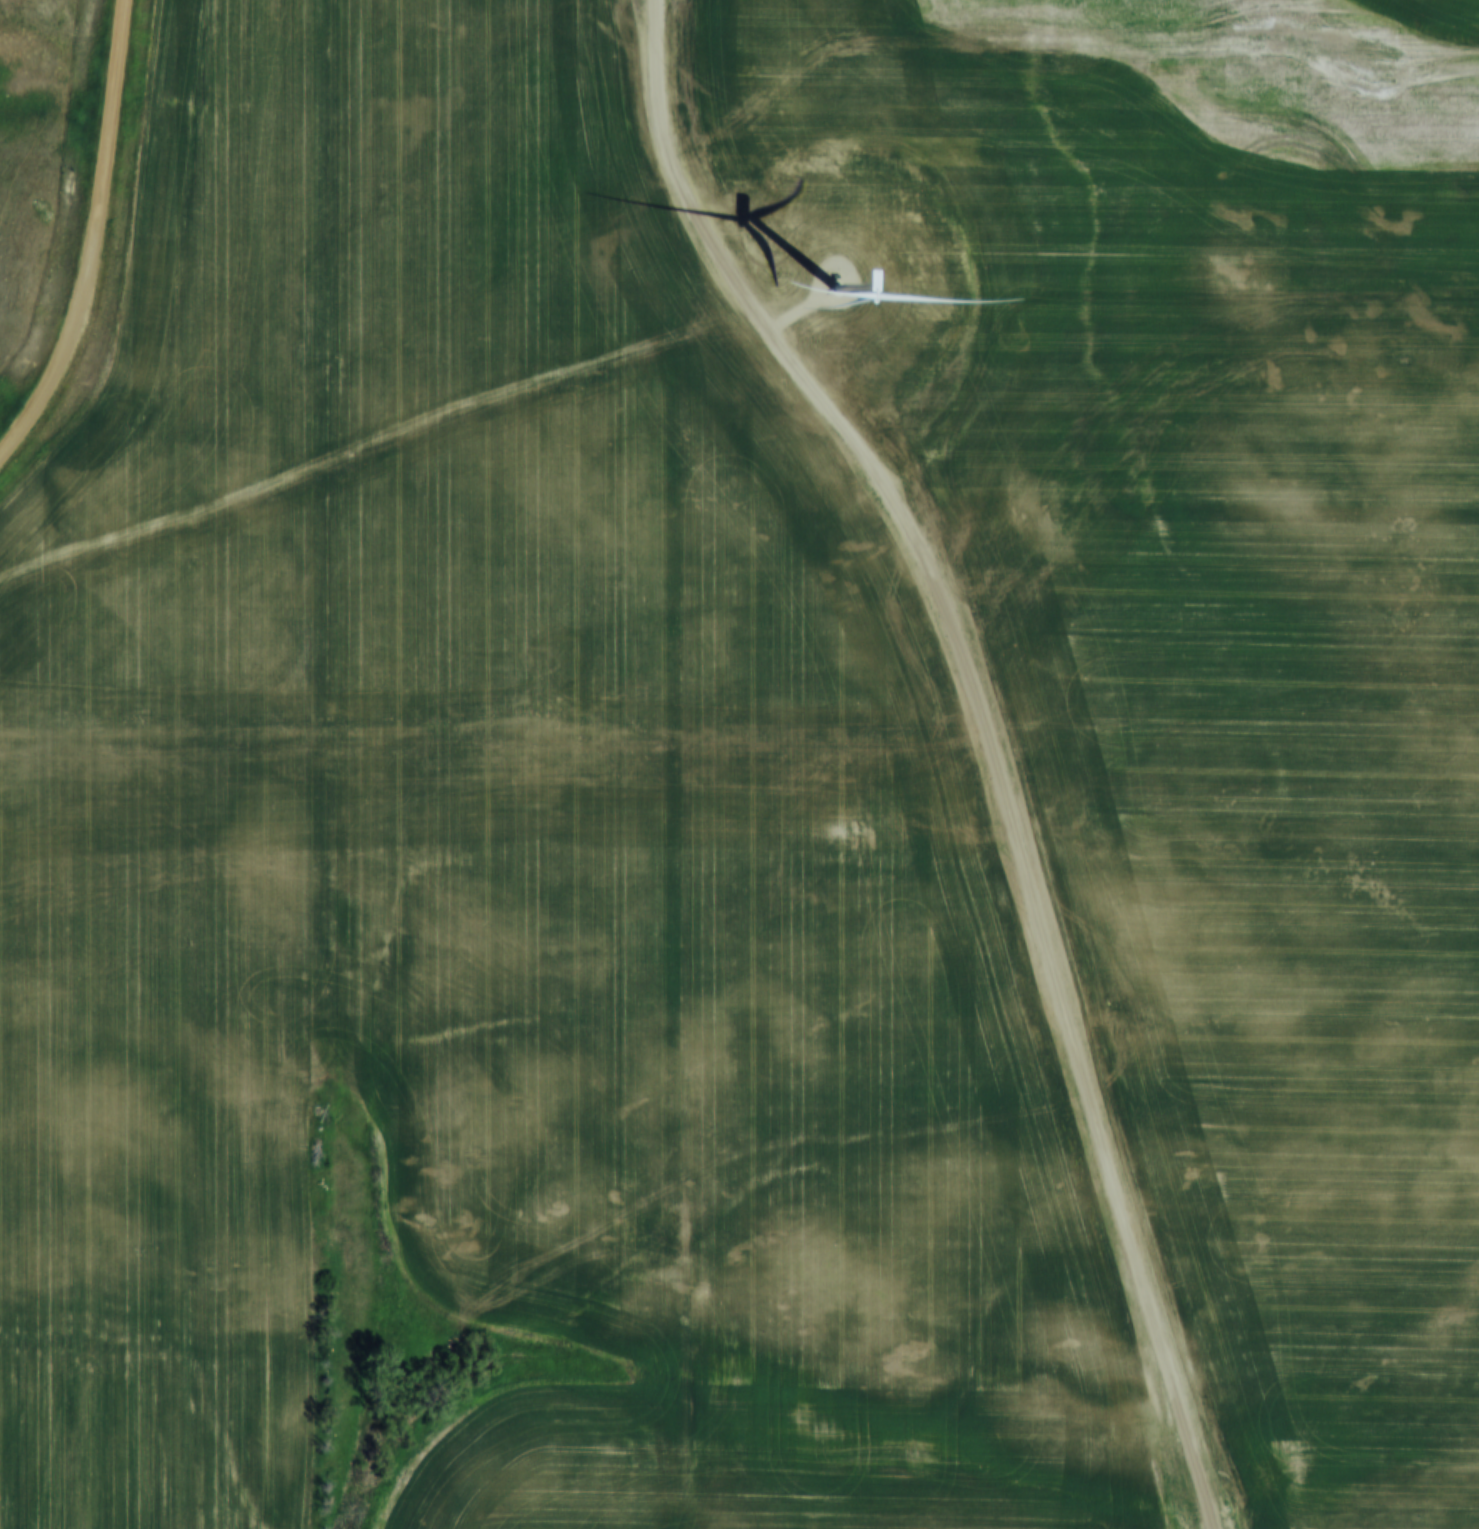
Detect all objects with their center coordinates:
road: (91, 235)
wind turbine: (833, 272)
road: (996, 733)

